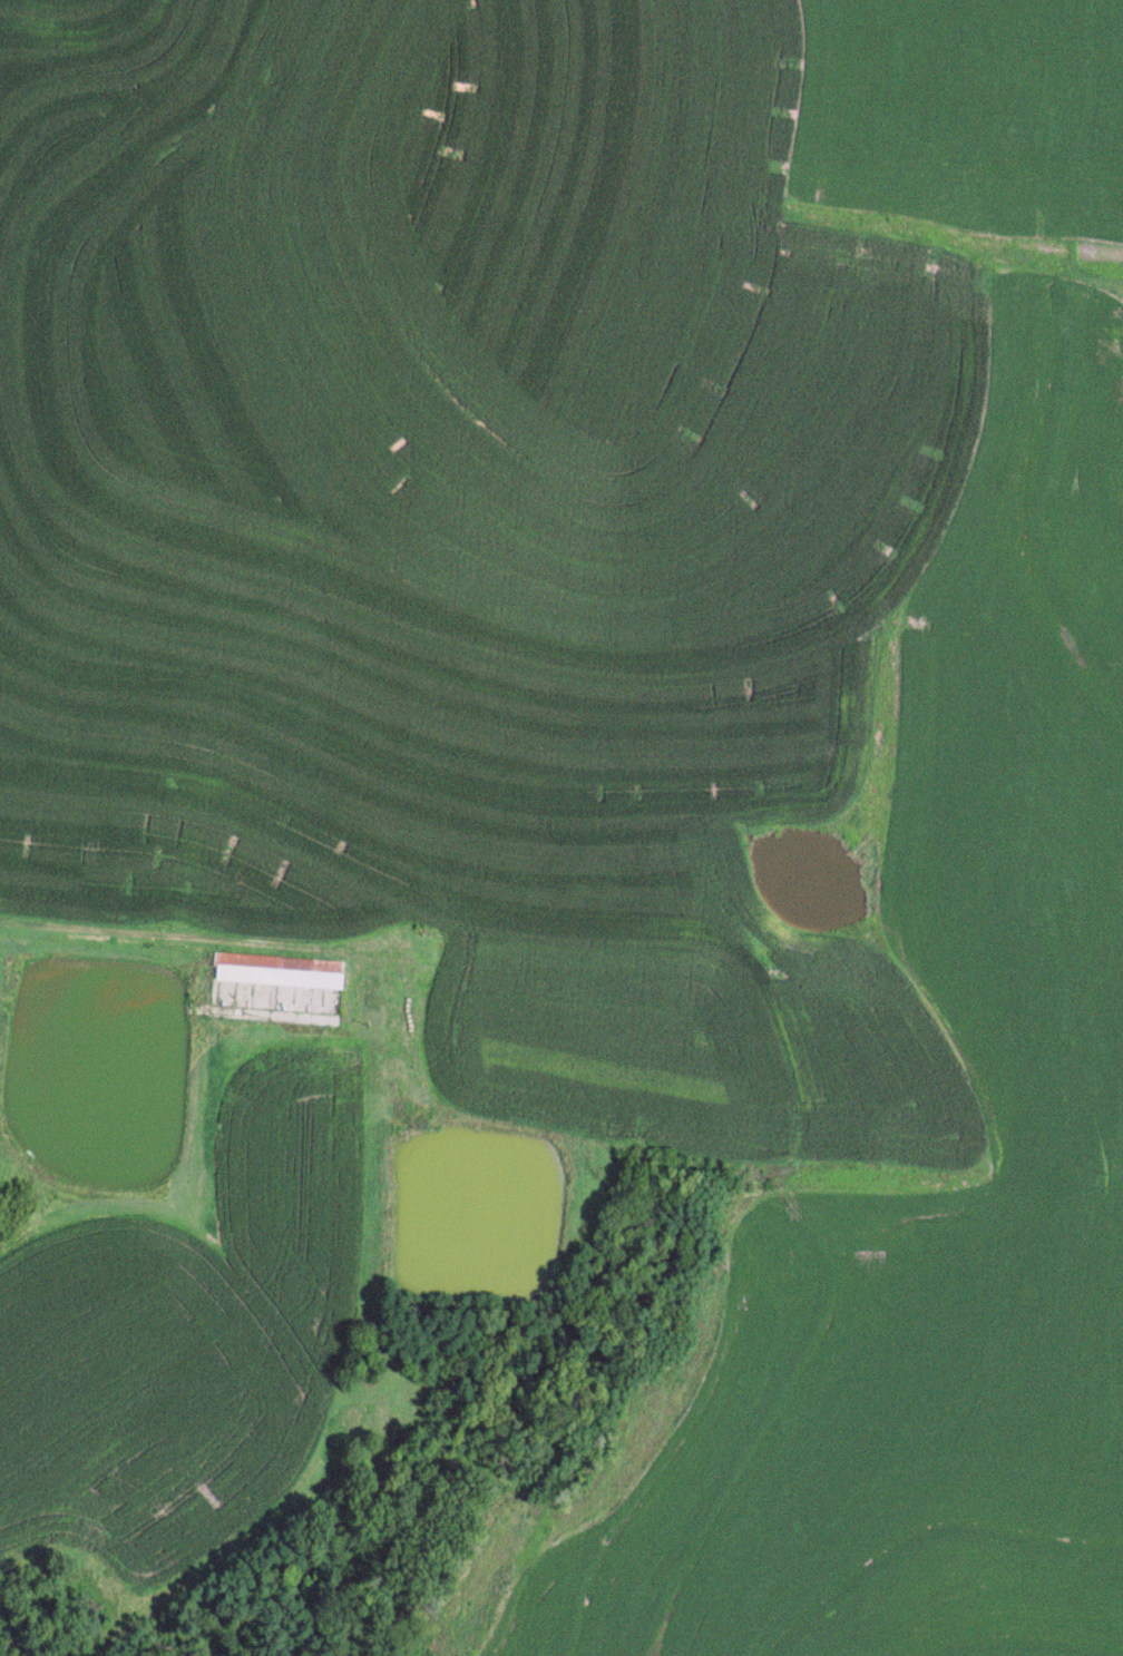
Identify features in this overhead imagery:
road: (170, 934)
building: (282, 986)
building: (400, 1019)

